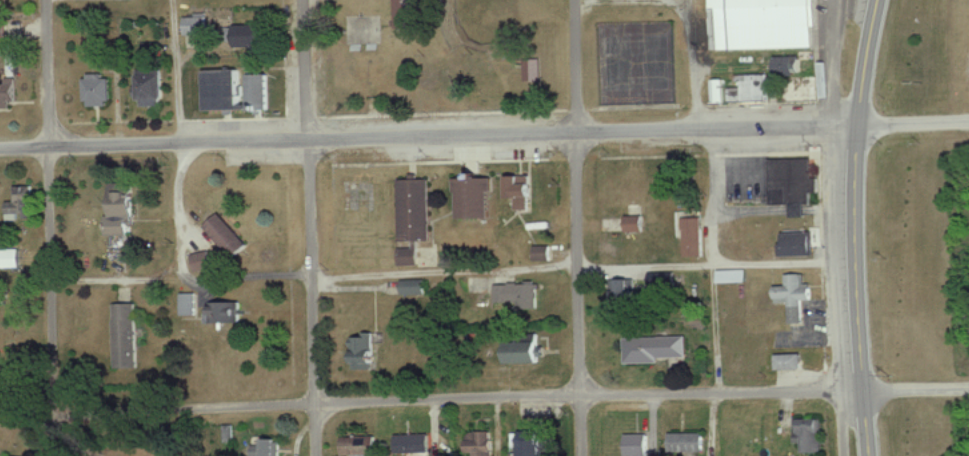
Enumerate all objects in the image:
road: (854, 7)
building: (764, 23)
building: (196, 24)
building: (250, 35)
park: (640, 63)
road: (831, 65)
road: (306, 72)
road: (49, 74)
building: (152, 87)
building: (9, 91)
building: (98, 91)
building: (263, 91)
road: (484, 137)
road: (180, 138)
building: (522, 190)
building: (633, 190)
building: (477, 197)
building: (21, 203)
building: (125, 208)
building: (416, 221)
road: (845, 225)
road: (580, 228)
building: (229, 234)
building: (694, 237)
building: (799, 244)
building: (10, 257)
road: (450, 272)
road: (311, 275)
building: (733, 275)
building: (517, 295)
building: (796, 296)
road: (54, 302)
building: (191, 304)
building: (126, 335)
building: (659, 348)
building: (527, 351)
building: (790, 361)
building: (760, 367)
road: (910, 389)
road: (583, 393)
road: (187, 412)
road: (29, 418)
road: (842, 423)
road: (317, 431)
building: (810, 435)
building: (533, 440)
building: (688, 442)
building: (637, 444)
building: (413, 445)
building: (359, 446)

